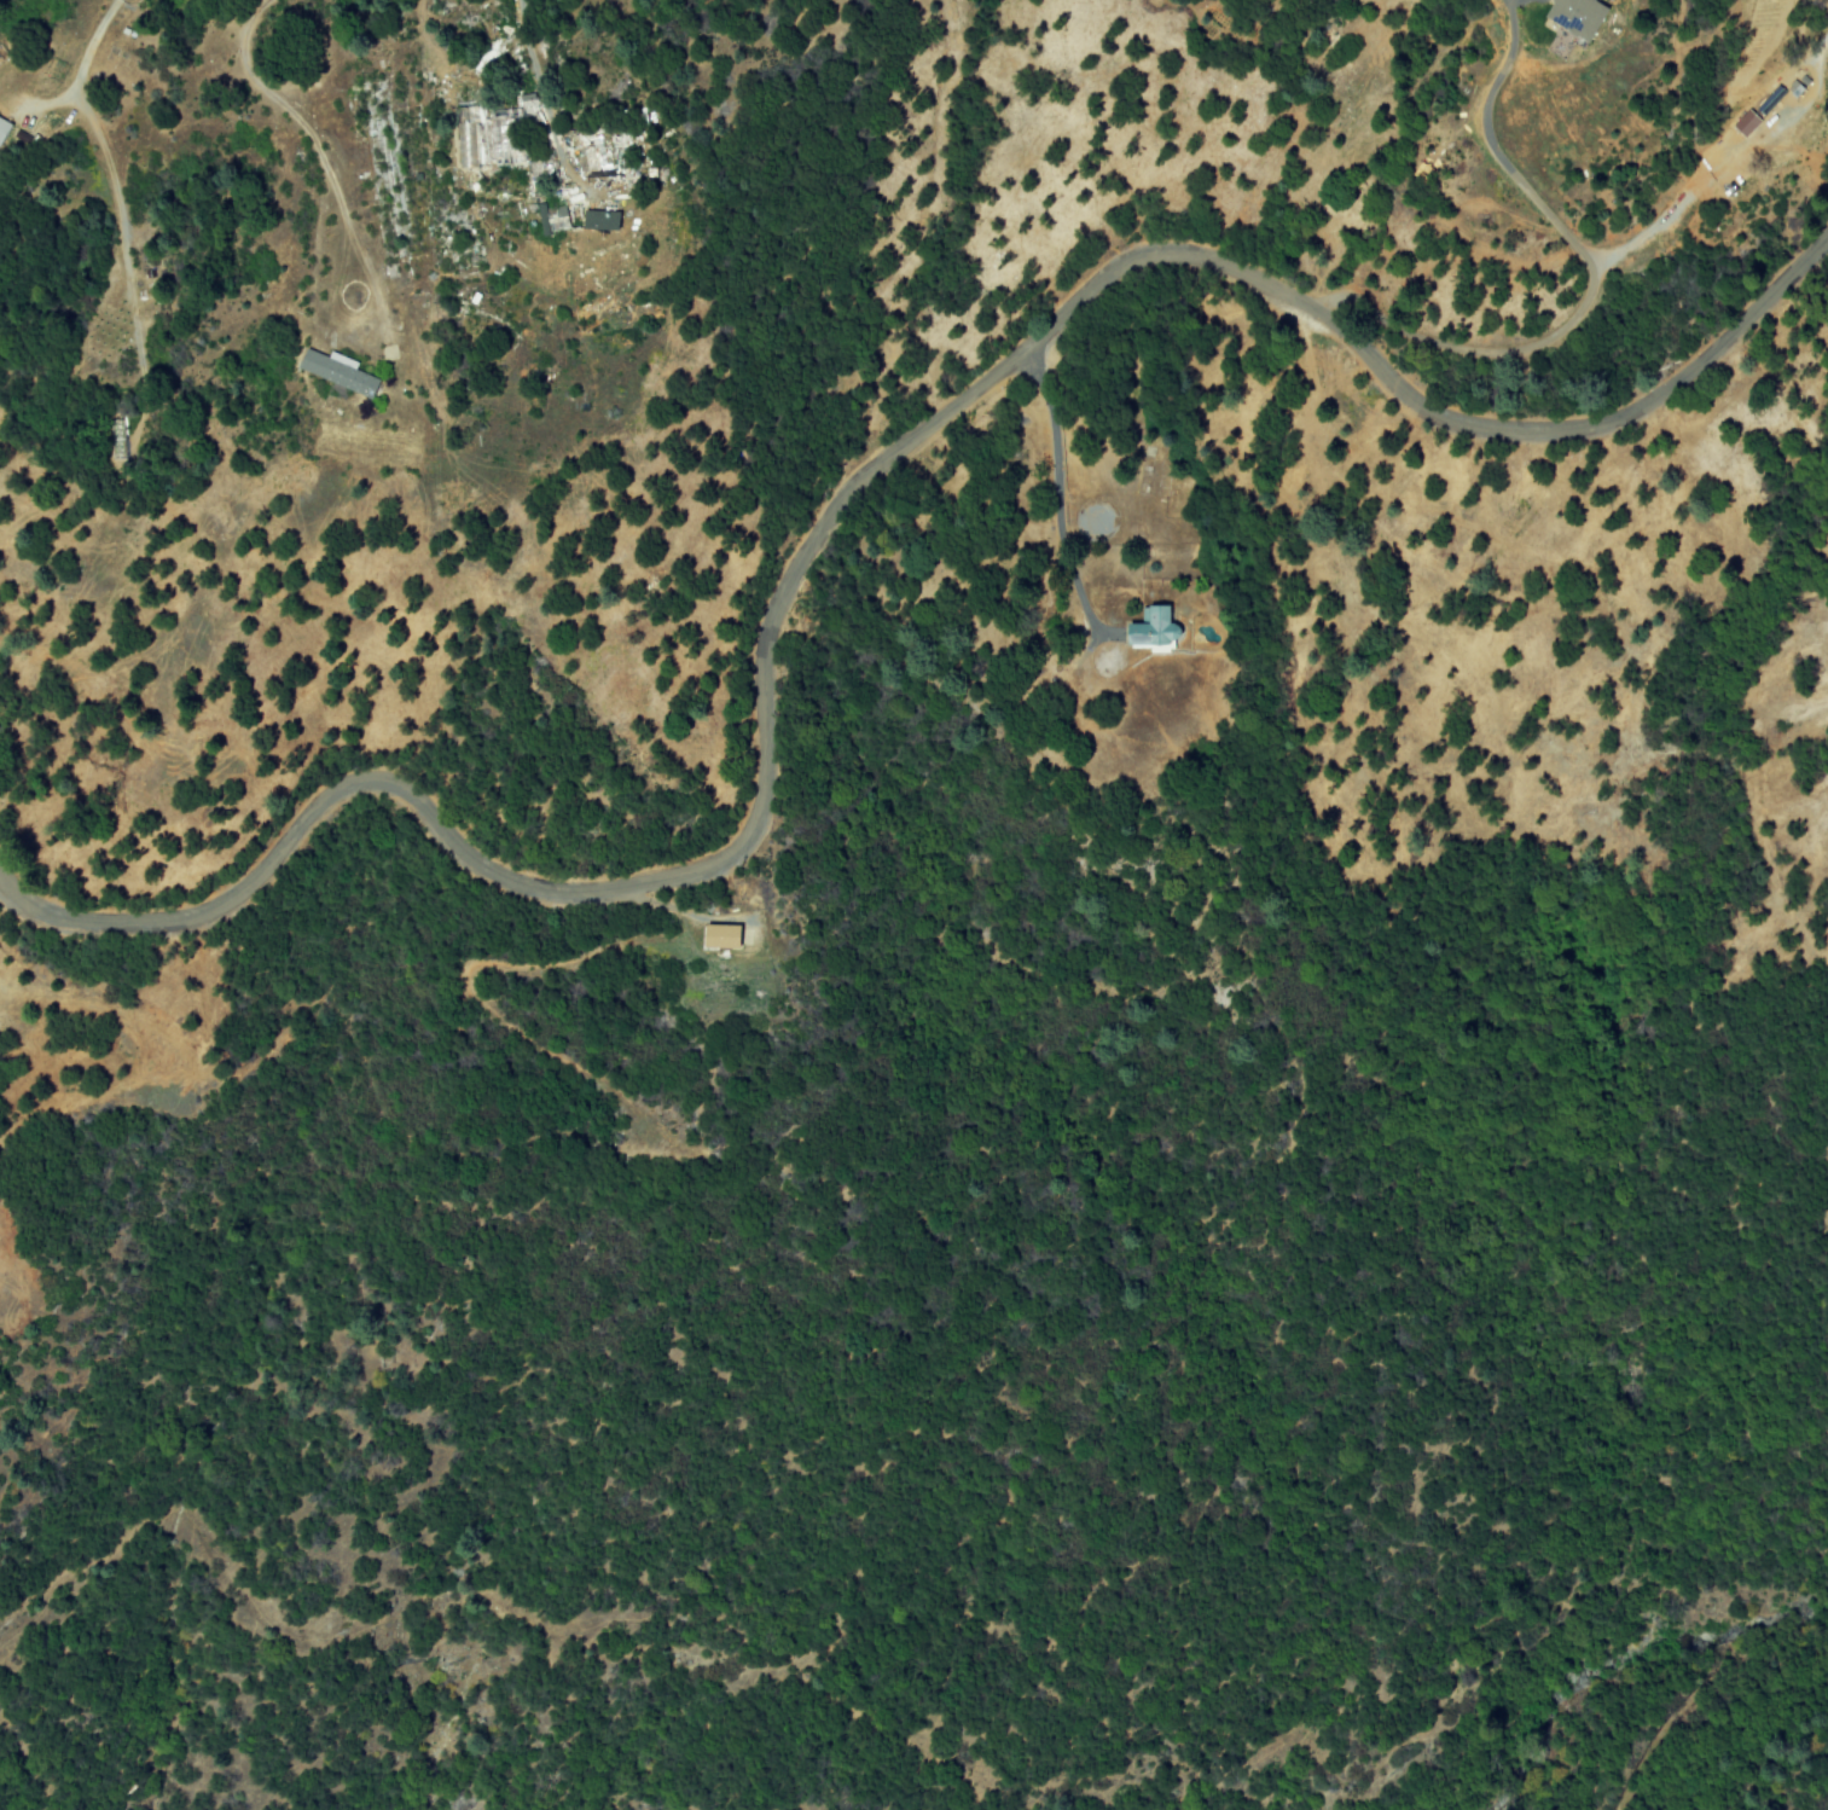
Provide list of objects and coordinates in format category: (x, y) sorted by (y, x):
building: (1574, 16)
road: (536, 77)
building: (1770, 100)
building: (1745, 123)
building: (2, 127)
road: (307, 127)
road: (94, 128)
building: (598, 220)
road: (1585, 292)
building: (336, 373)
road: (1052, 481)
road: (838, 511)
building: (1151, 631)
building: (719, 936)

